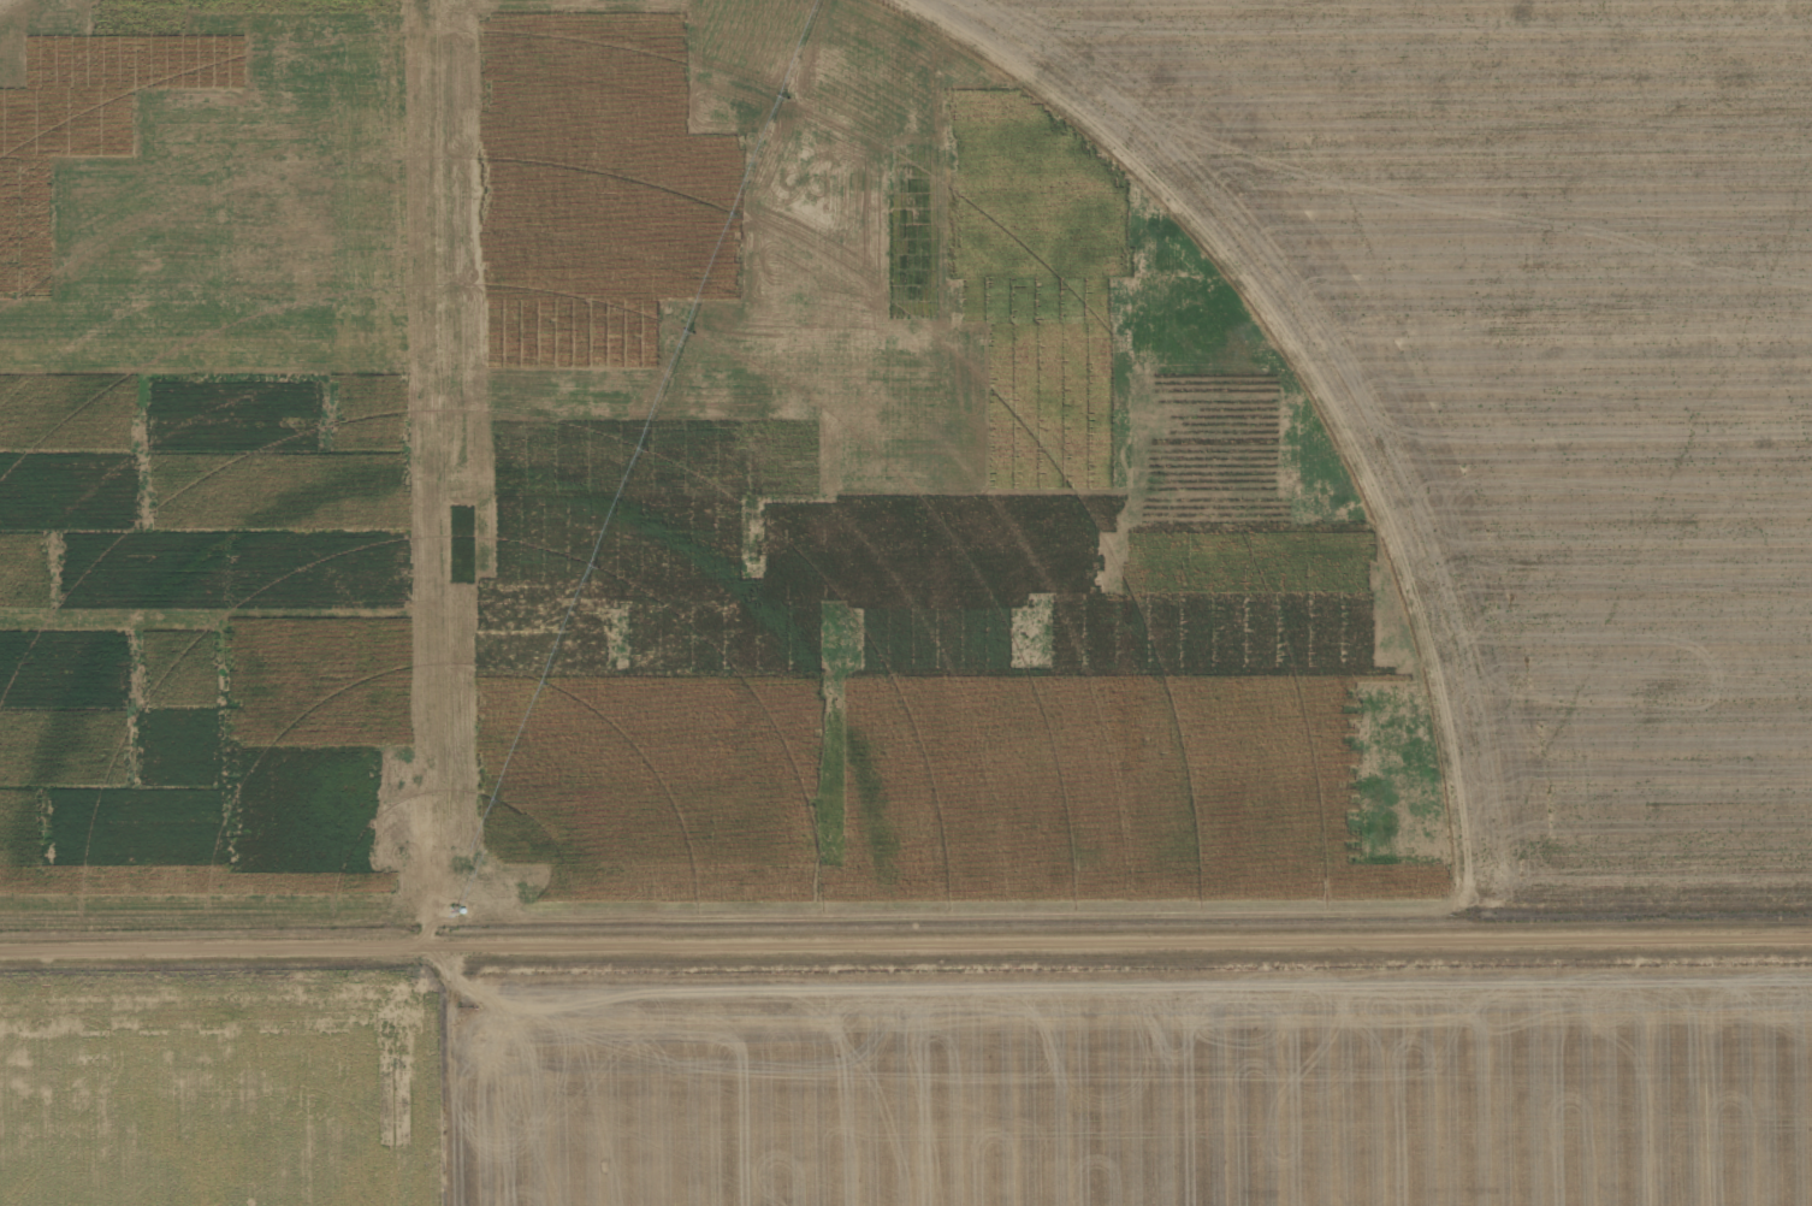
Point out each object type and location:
road: (905, 940)
road: (468, 1075)

